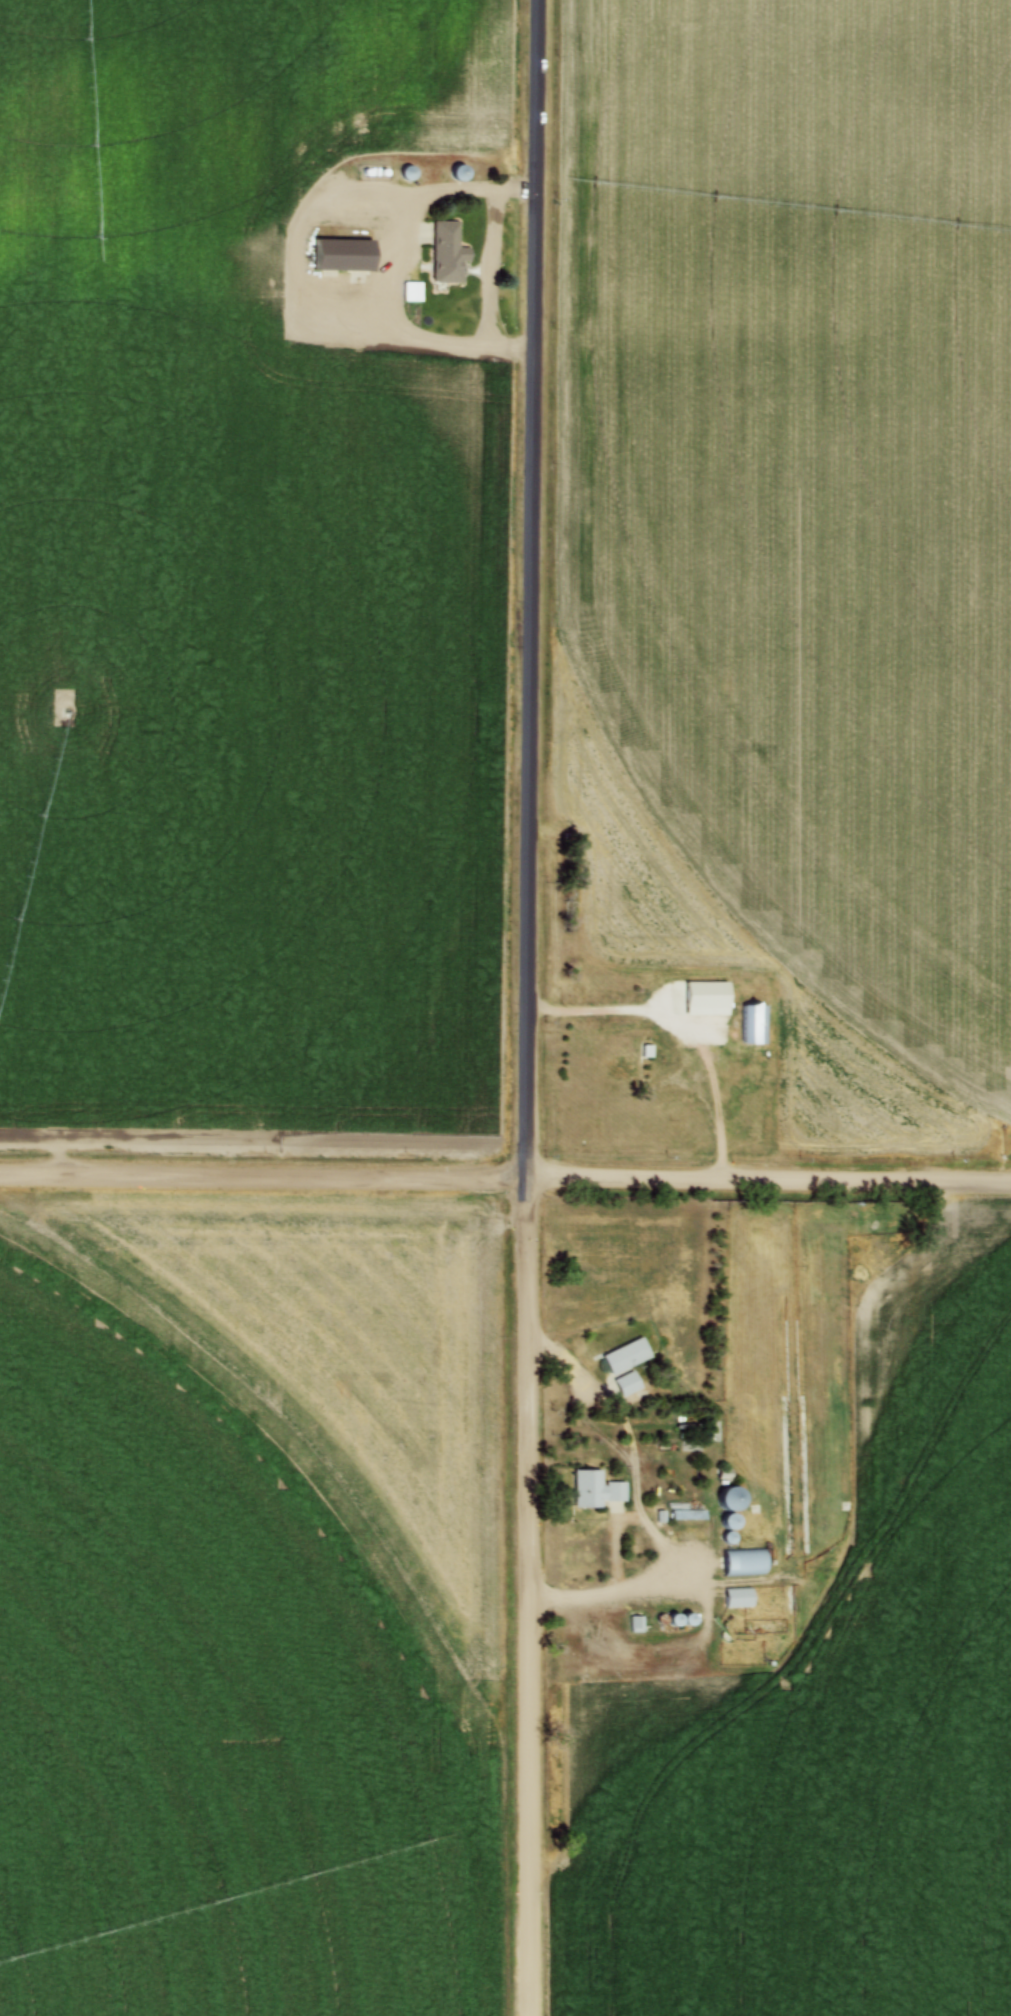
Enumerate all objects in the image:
building: (406, 172)
silo: (406, 172)
building: (459, 172)
silo: (459, 172)
building: (447, 252)
building: (342, 254)
road: (490, 268)
road: (392, 277)
building: (412, 290)
crop: (793, 534)
road: (533, 588)
crop: (240, 591)
building: (751, 1022)
road: (263, 1179)
road: (768, 1180)
building: (625, 1355)
building: (626, 1385)
road: (637, 1486)
building: (593, 1491)
building: (730, 1498)
silo: (730, 1498)
building: (683, 1512)
building: (659, 1515)
building: (730, 1520)
silo: (730, 1520)
building: (729, 1537)
silo: (729, 1537)
building: (742, 1561)
road: (662, 1586)
road: (528, 1596)
building: (738, 1597)
crop: (251, 1604)
building: (660, 1619)
silo: (660, 1619)
building: (673, 1619)
silo: (673, 1619)
building: (687, 1619)
silo: (687, 1619)
building: (636, 1623)
crop: (824, 1767)

